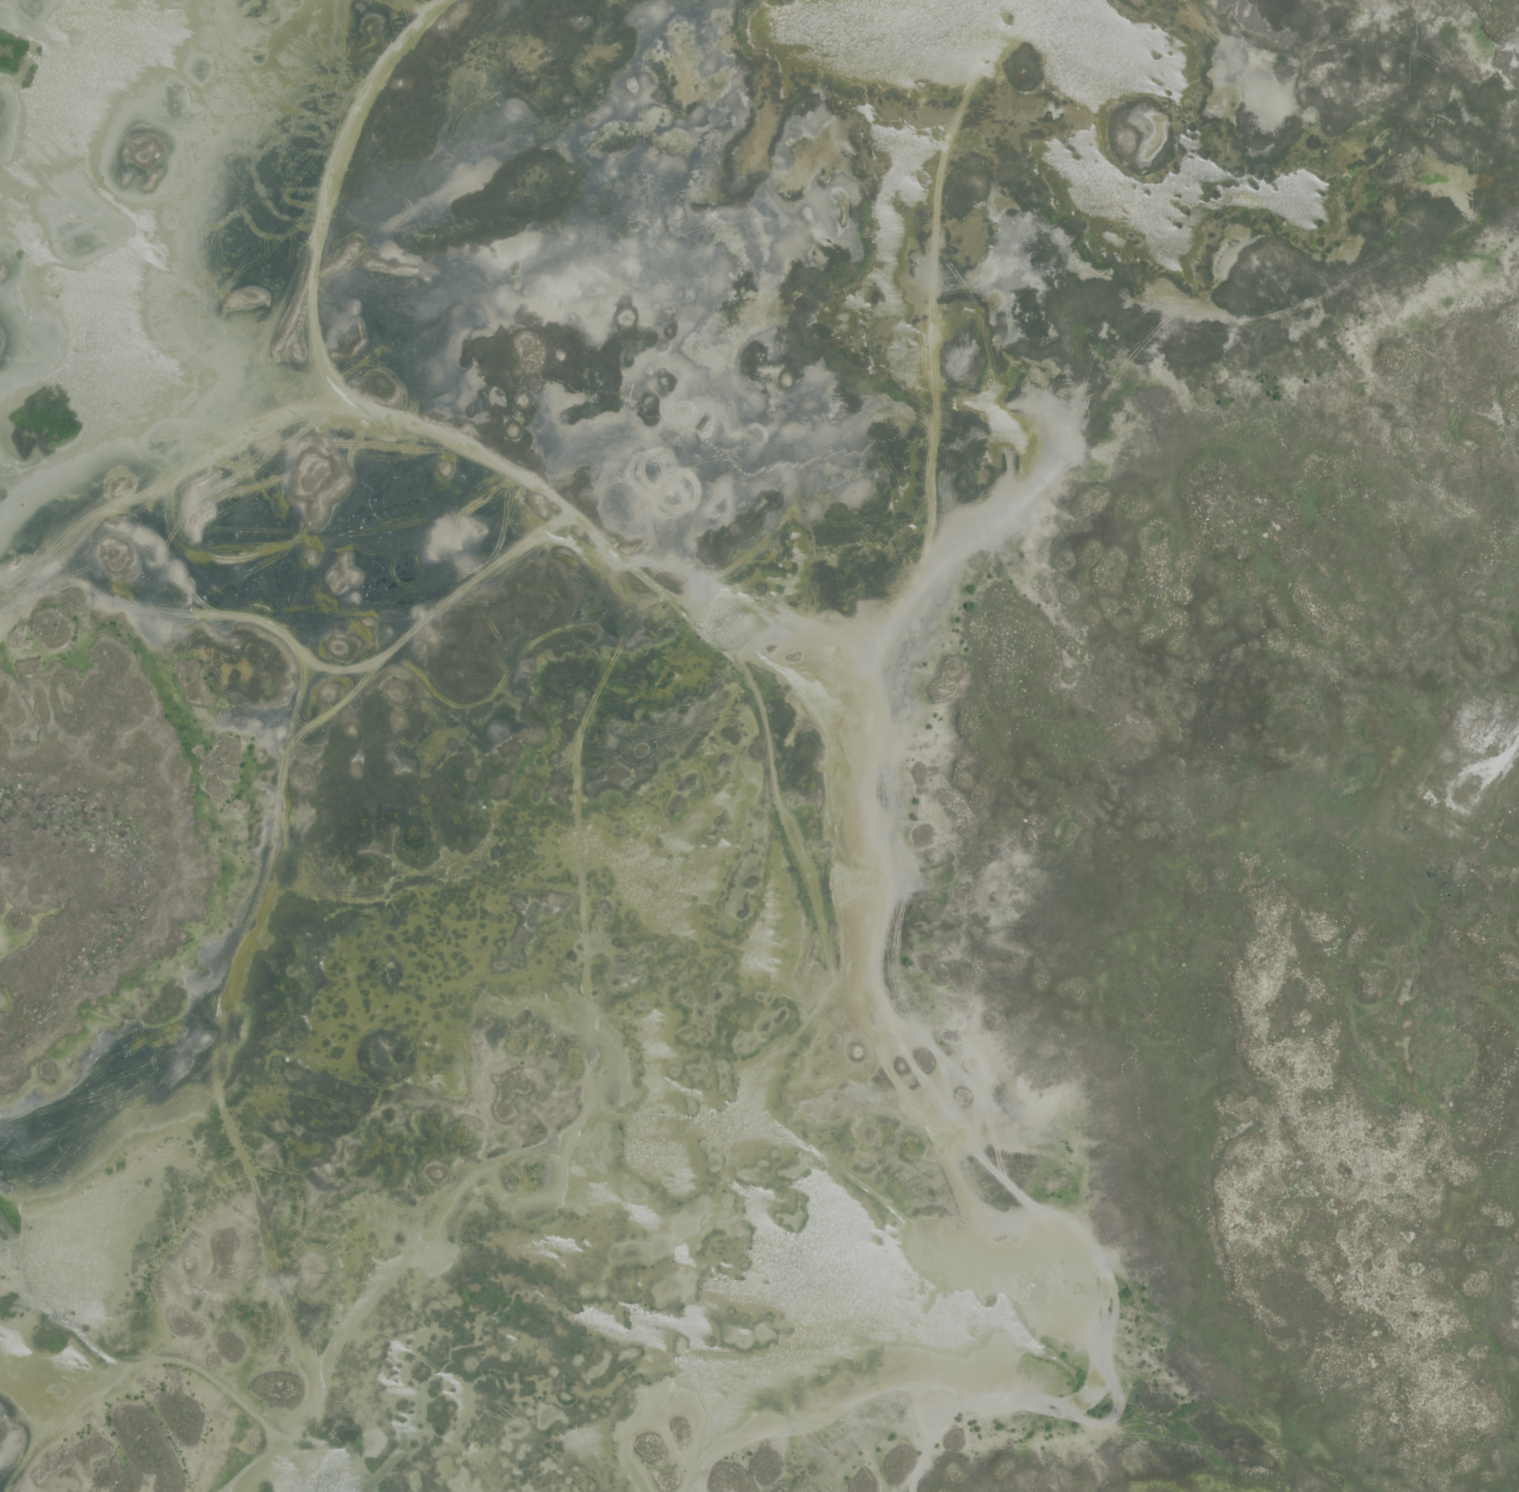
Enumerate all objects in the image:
park: (759, 746)

